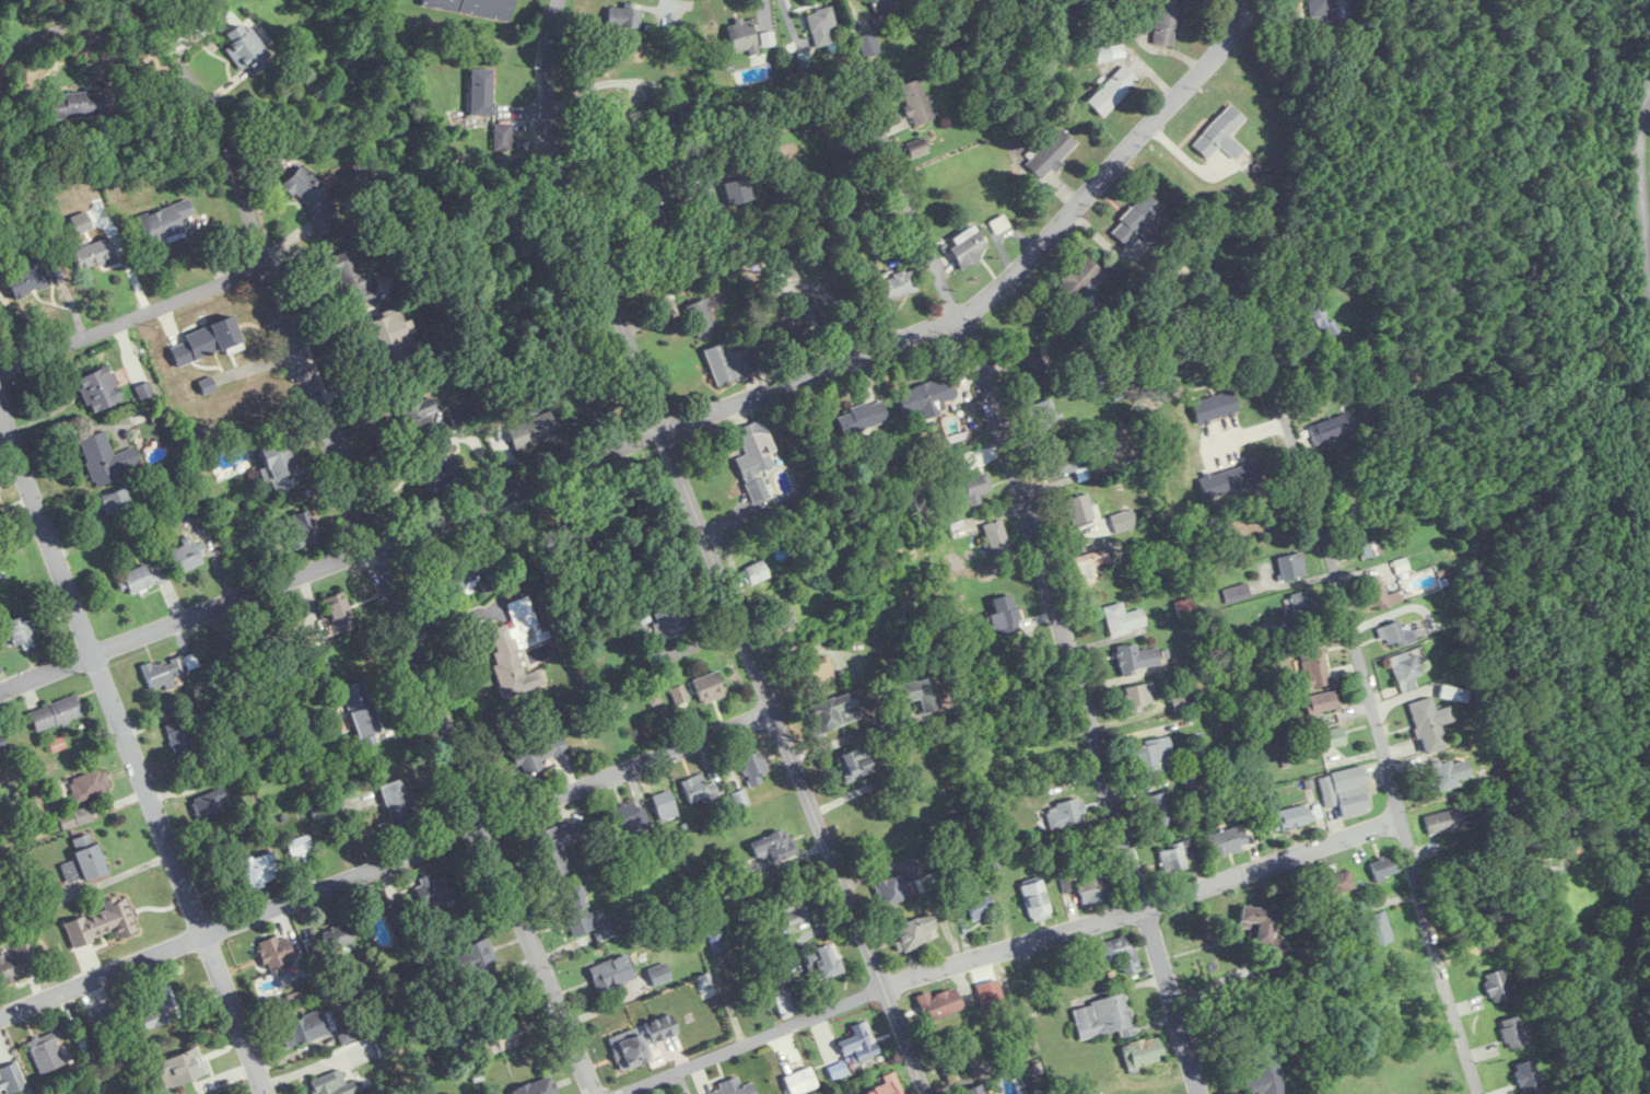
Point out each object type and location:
building: (886, 4)
building: (473, 7)
building: (1320, 8)
building: (623, 18)
building: (1166, 23)
road: (110, 24)
building: (822, 27)
building: (742, 36)
building: (868, 45)
building: (245, 50)
building: (1109, 53)
road: (155, 90)
building: (1112, 91)
building: (481, 92)
building: (915, 103)
building: (78, 105)
building: (622, 120)
building: (1220, 135)
building: (917, 151)
building: (1051, 154)
building: (640, 164)
road: (1111, 164)
building: (737, 191)
road: (906, 195)
road: (707, 196)
park: (1636, 199)
road: (1639, 199)
building: (852, 206)
road: (582, 218)
building: (1135, 221)
building: (161, 228)
building: (968, 247)
building: (91, 255)
road: (130, 276)
building: (349, 276)
building: (384, 279)
building: (28, 280)
building: (1078, 282)
building: (897, 286)
road: (960, 314)
road: (131, 317)
road: (1048, 317)
building: (702, 318)
building: (1322, 323)
building: (391, 341)
building: (206, 342)
building: (728, 364)
building: (1033, 368)
road: (811, 372)
building: (1161, 381)
building: (101, 389)
building: (928, 397)
building: (414, 407)
building: (1044, 415)
building: (863, 417)
building: (1330, 430)
building: (531, 431)
road: (1249, 433)
building: (105, 458)
building: (754, 458)
building: (1064, 461)
building: (277, 465)
building: (440, 467)
building: (973, 488)
building: (115, 500)
building: (1079, 509)
building: (300, 528)
building: (996, 538)
building: (182, 548)
road: (332, 558)
building: (1088, 566)
building: (1291, 566)
building: (456, 573)
building: (754, 573)
building: (143, 577)
road: (406, 593)
building: (1377, 594)
building: (1301, 604)
building: (339, 612)
building: (775, 613)
building: (1007, 614)
building: (671, 619)
building: (1123, 619)
building: (20, 631)
building: (1395, 635)
building: (517, 649)
building: (1136, 659)
building: (1313, 666)
building: (1405, 671)
building: (164, 672)
building: (819, 672)
building: (709, 688)
building: (920, 694)
building: (678, 695)
building: (1139, 696)
road: (1086, 701)
building: (1323, 701)
building: (833, 712)
building: (56, 713)
building: (361, 713)
building: (1428, 724)
building: (186, 735)
road: (1381, 737)
building: (1331, 738)
building: (2, 743)
road: (131, 746)
building: (1154, 756)
building: (539, 757)
road: (797, 759)
building: (856, 763)
building: (754, 767)
building: (1450, 772)
building: (1192, 781)
building: (90, 785)
building: (695, 789)
building: (1346, 792)
building: (740, 799)
building: (211, 805)
building: (398, 805)
building: (665, 806)
building: (1160, 810)
building: (1065, 814)
building: (627, 818)
building: (1290, 818)
building: (1443, 821)
building: (1228, 840)
building: (1565, 842)
building: (774, 846)
building: (554, 850)
building: (1174, 857)
building: (83, 860)
road: (388, 860)
building: (1384, 866)
building: (254, 872)
building: (1338, 884)
building: (1090, 886)
building: (892, 889)
building: (434, 892)
building: (1035, 900)
building: (801, 909)
building: (978, 909)
building: (577, 912)
building: (101, 923)
building: (1259, 923)
building: (1379, 929)
building: (913, 933)
road: (1523, 935)
building: (338, 936)
road: (1008, 946)
building: (274, 952)
building: (1120, 954)
building: (472, 958)
building: (823, 963)
building: (11, 968)
building: (611, 974)
building: (659, 975)
building: (1497, 986)
building: (787, 996)
building: (938, 1005)
building: (156, 1008)
building: (104, 1017)
building: (1104, 1017)
building: (307, 1028)
building: (505, 1032)
building: (1511, 1033)
building: (639, 1041)
building: (386, 1045)
building: (858, 1045)
building: (47, 1052)
building: (1143, 1052)
building: (180, 1069)
building: (1526, 1075)
building: (11, 1078)
building: (1266, 1078)
building: (800, 1081)
building: (335, 1084)
building: (887, 1086)
building: (536, 1087)
building: (730, 1089)
building: (974, 1091)

